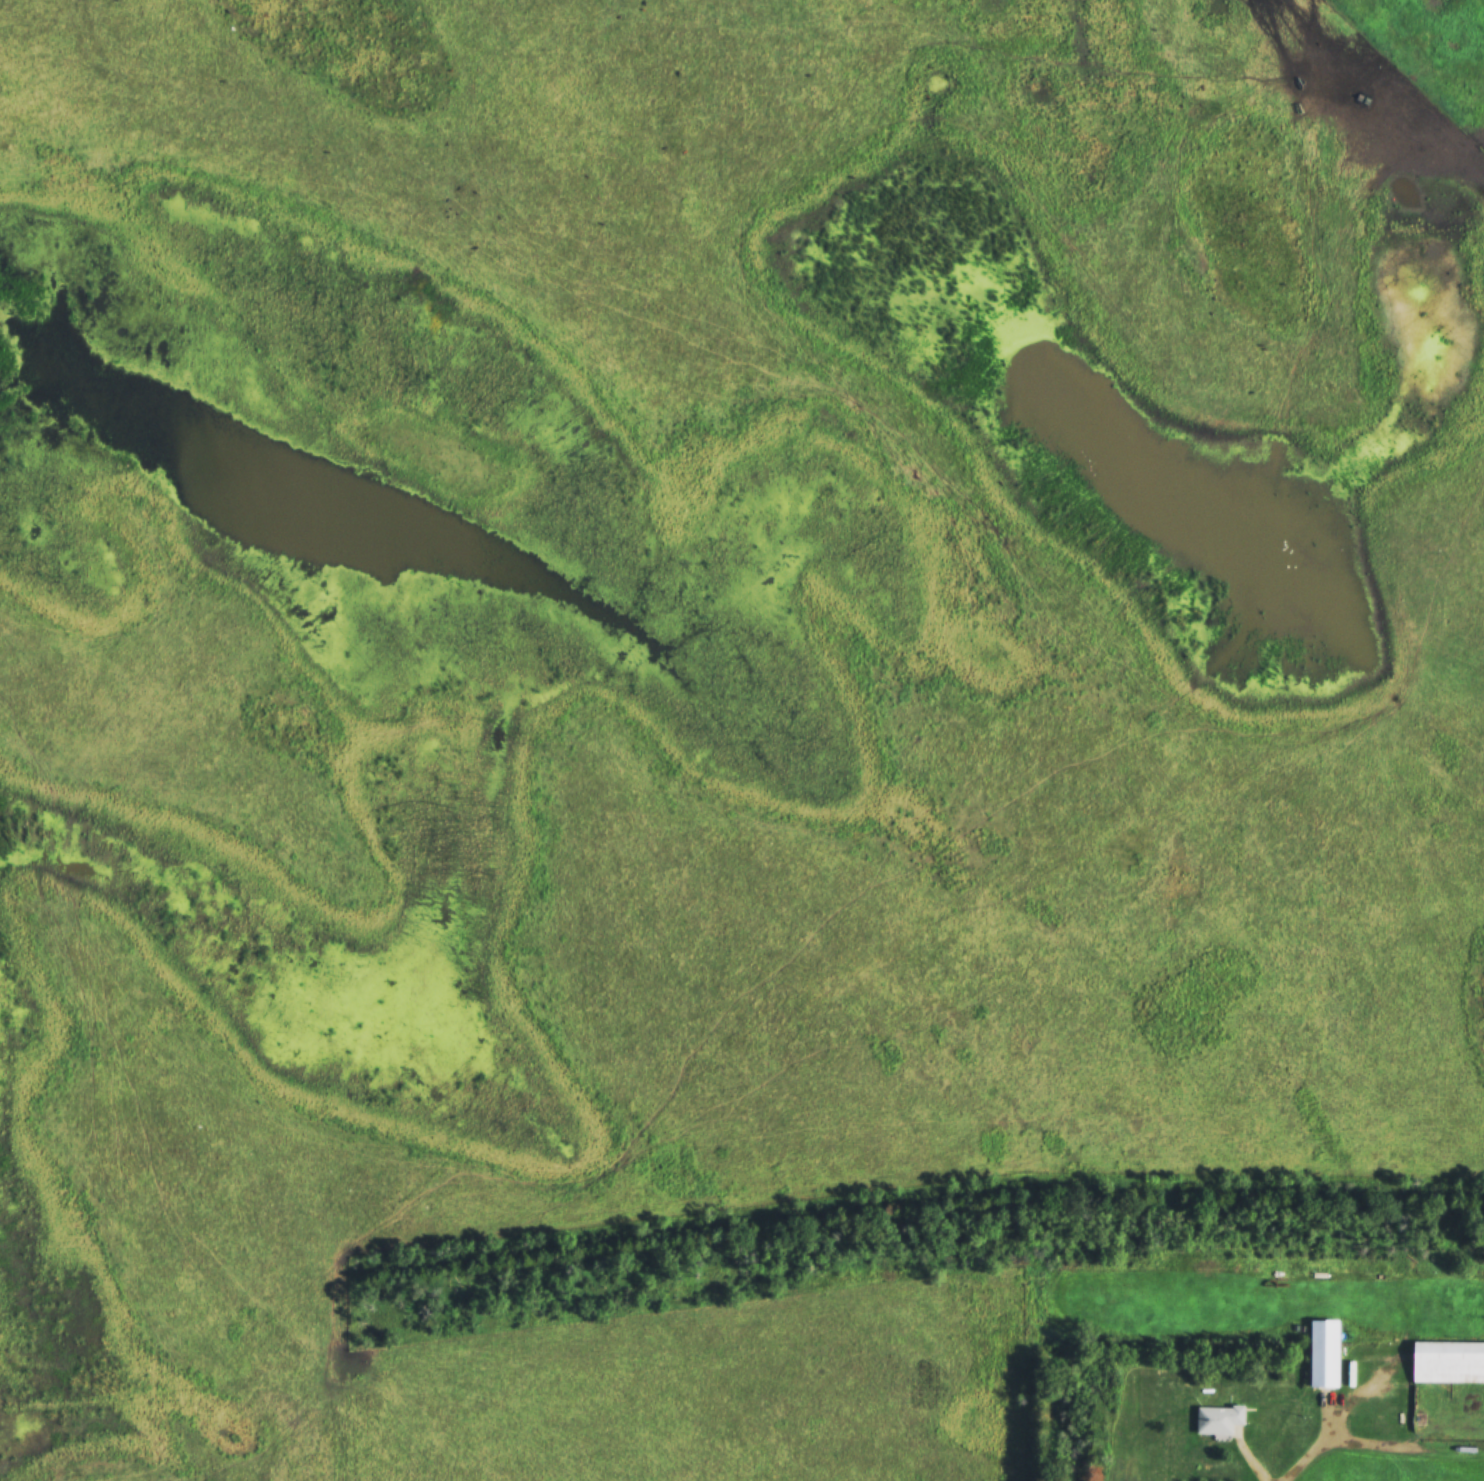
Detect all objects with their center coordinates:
building: (1327, 1352)
building: (1450, 1363)
building: (1215, 1419)
road: (1257, 1465)

